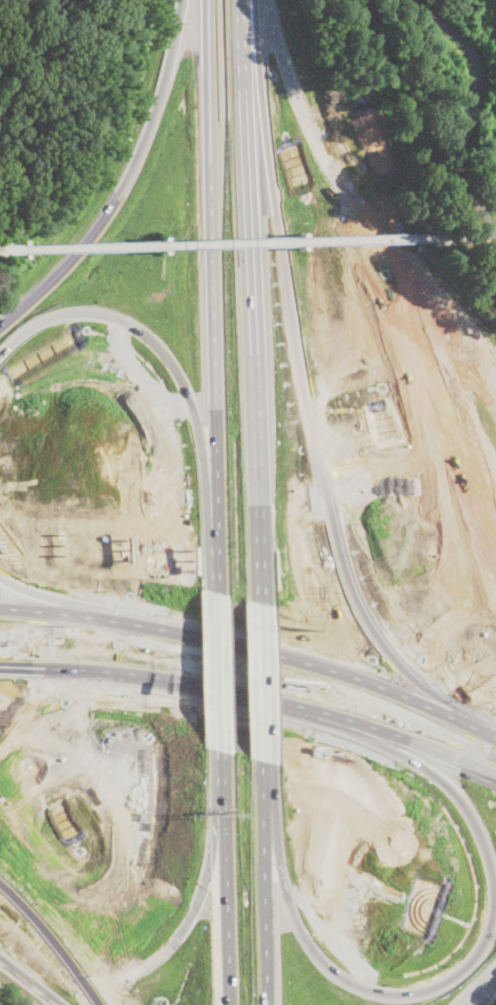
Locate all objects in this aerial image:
road: (421, 13)
park: (44, 89)
park: (457, 93)
road: (467, 126)
road: (125, 182)
road: (494, 235)
road: (472, 236)
road: (229, 242)
road: (3, 248)
road: (213, 296)
road: (252, 302)
road: (179, 378)
road: (317, 461)
road: (72, 605)
road: (74, 617)
road: (93, 669)
road: (218, 671)
road: (323, 679)
road: (262, 682)
road: (249, 698)
road: (404, 739)
road: (225, 877)
road: (265, 883)
road: (459, 970)
road: (29, 980)
road: (480, 990)

